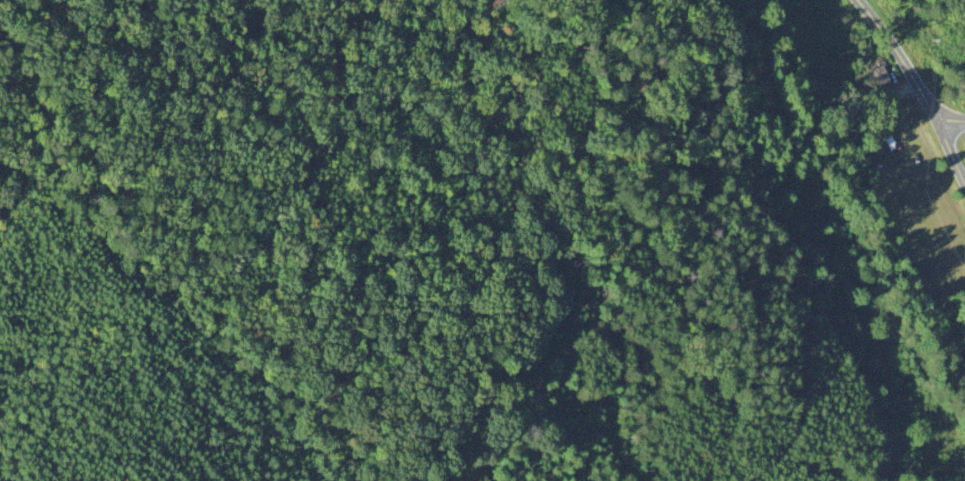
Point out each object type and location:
road: (900, 58)
road: (953, 121)
road: (953, 147)

